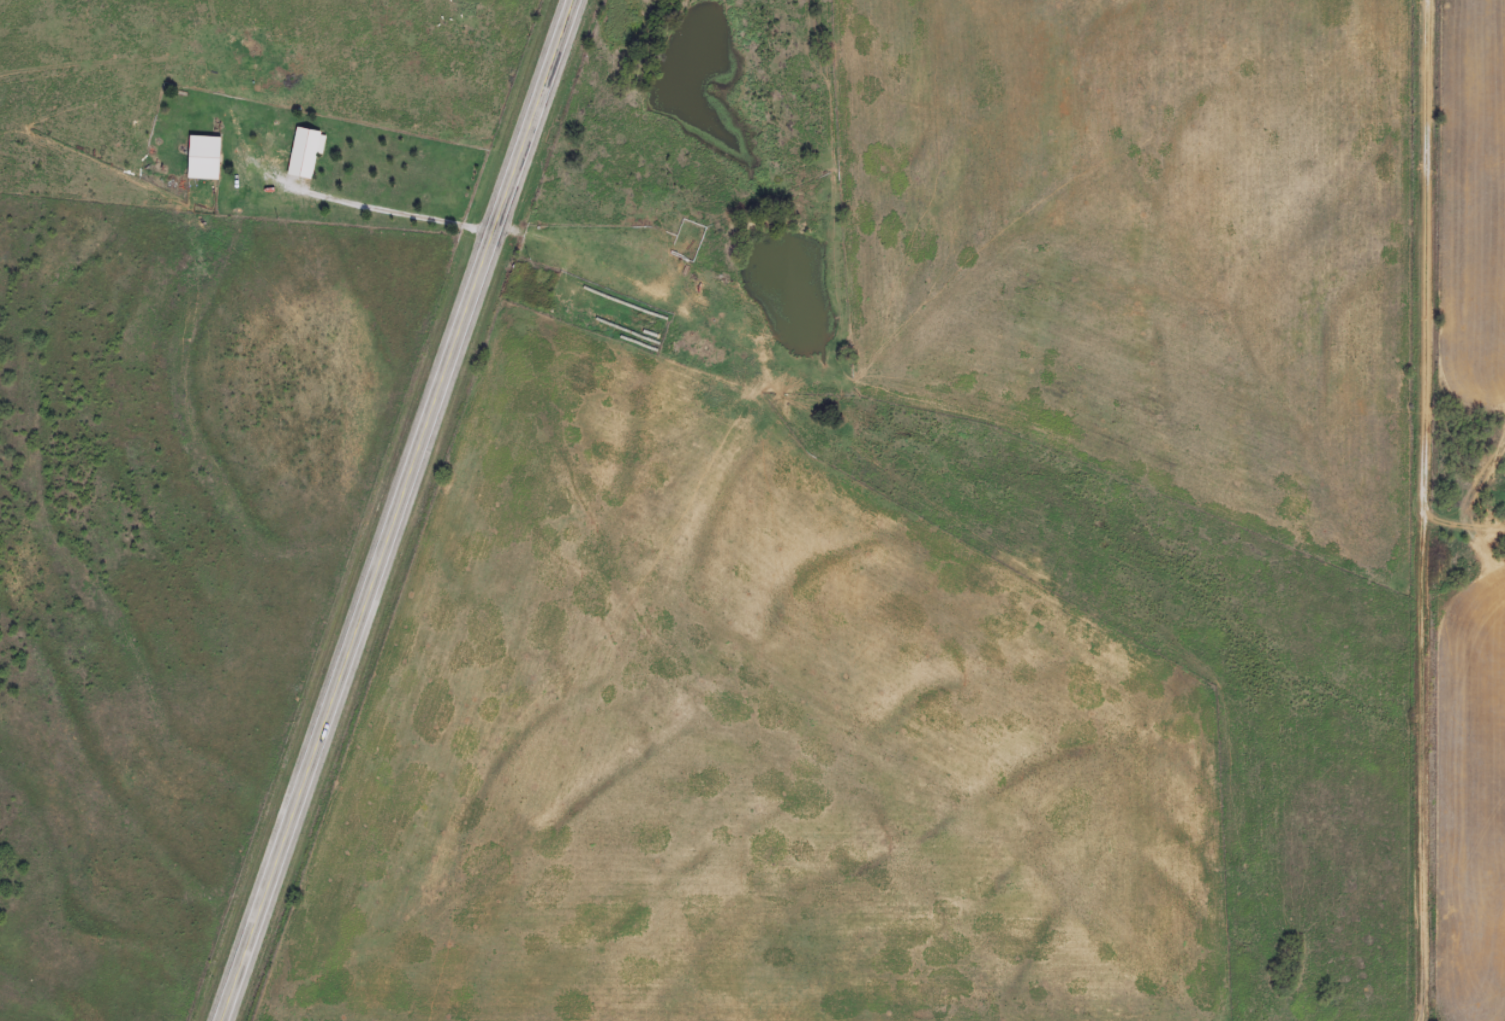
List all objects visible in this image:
building: (306, 153)
building: (205, 158)
road: (753, 470)
road: (402, 510)
road: (1425, 510)

